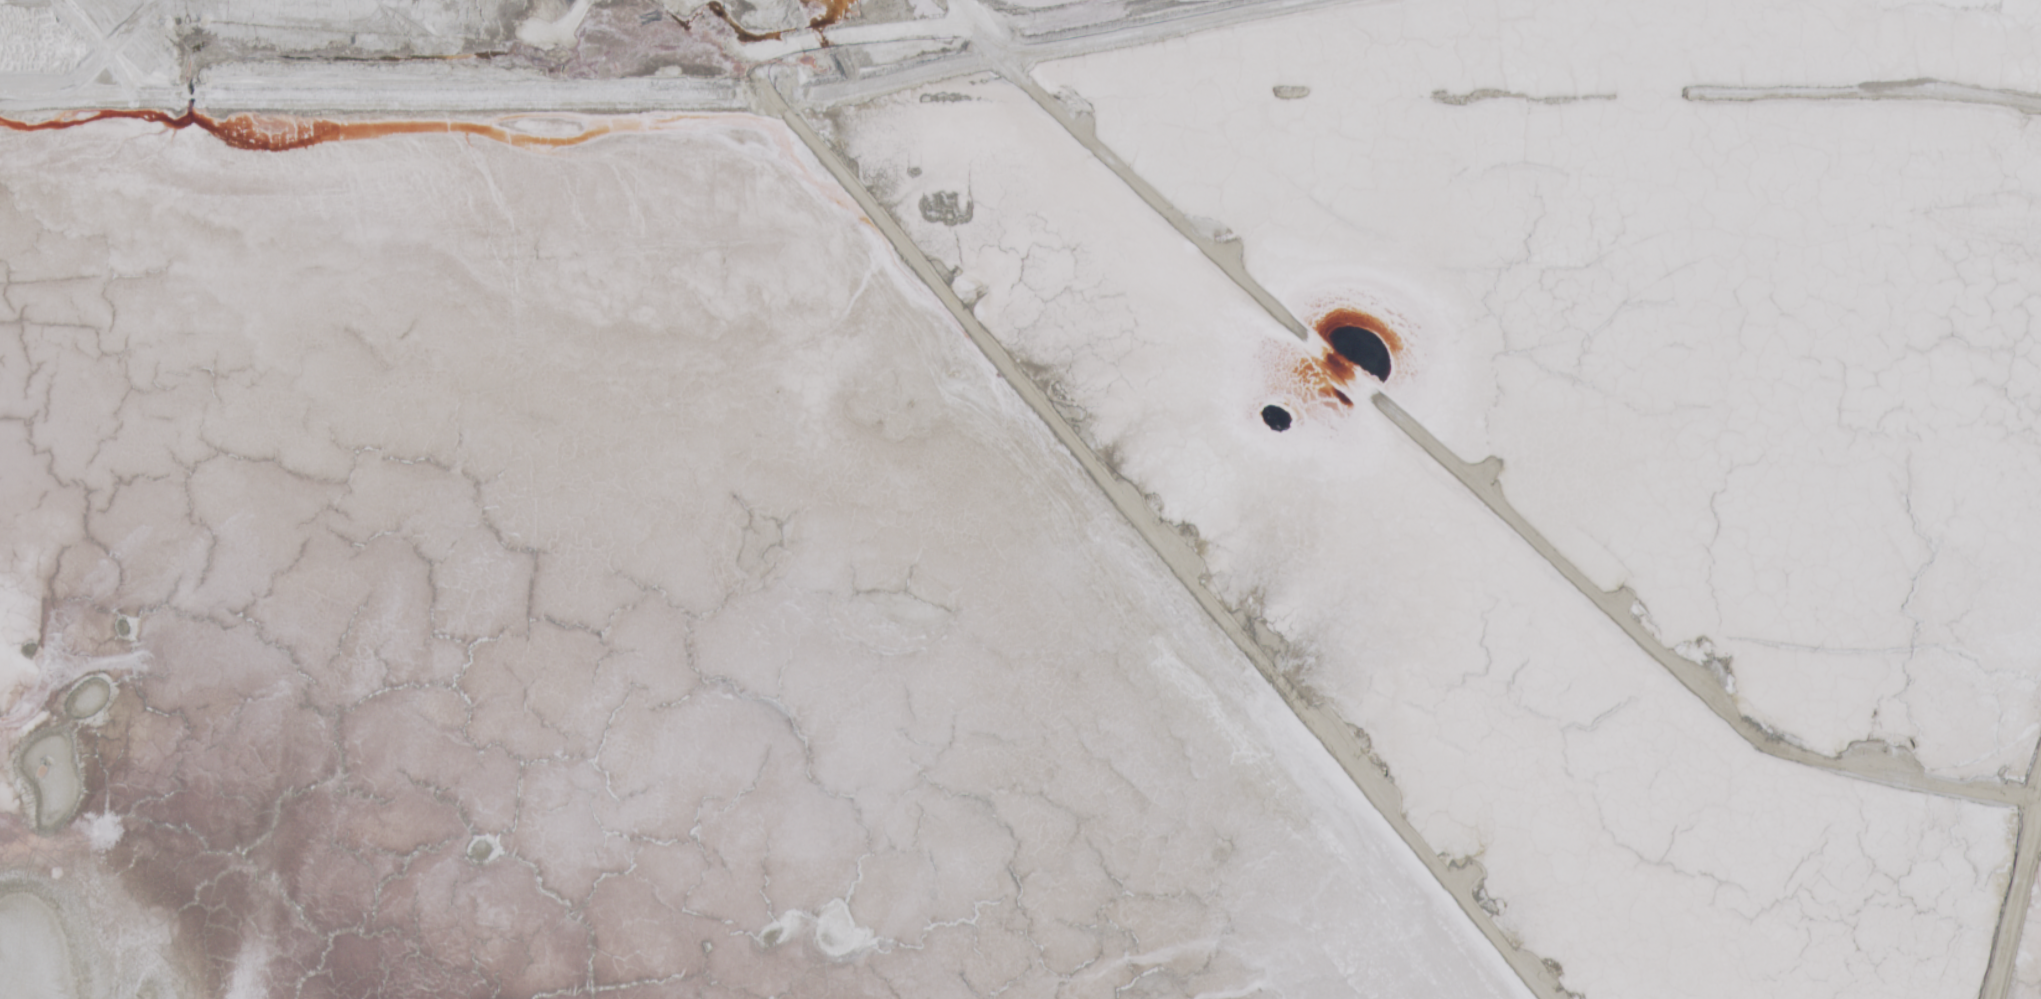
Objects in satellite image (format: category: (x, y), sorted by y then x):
road: (1051, 46)
road: (363, 96)
quarry: (1020, 499)

